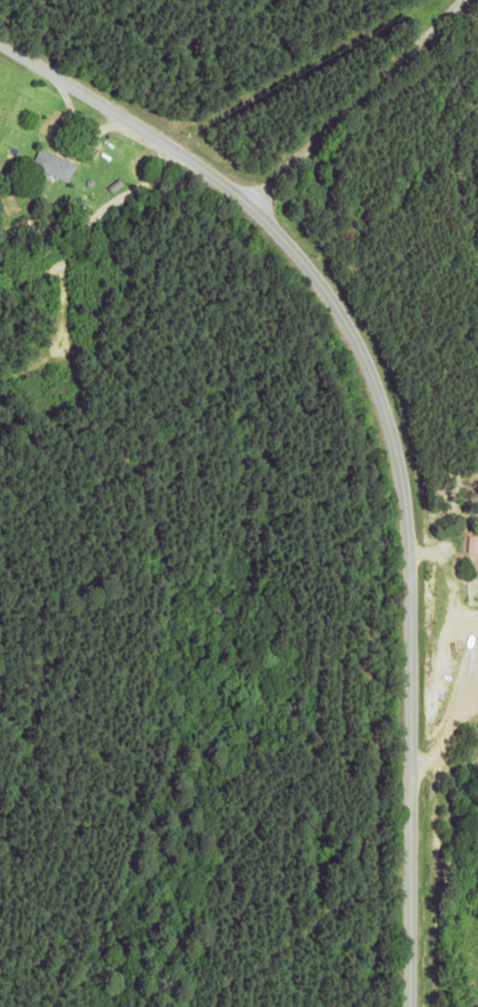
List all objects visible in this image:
road: (362, 114)
building: (53, 164)
road: (87, 257)
road: (358, 443)
building: (473, 544)

